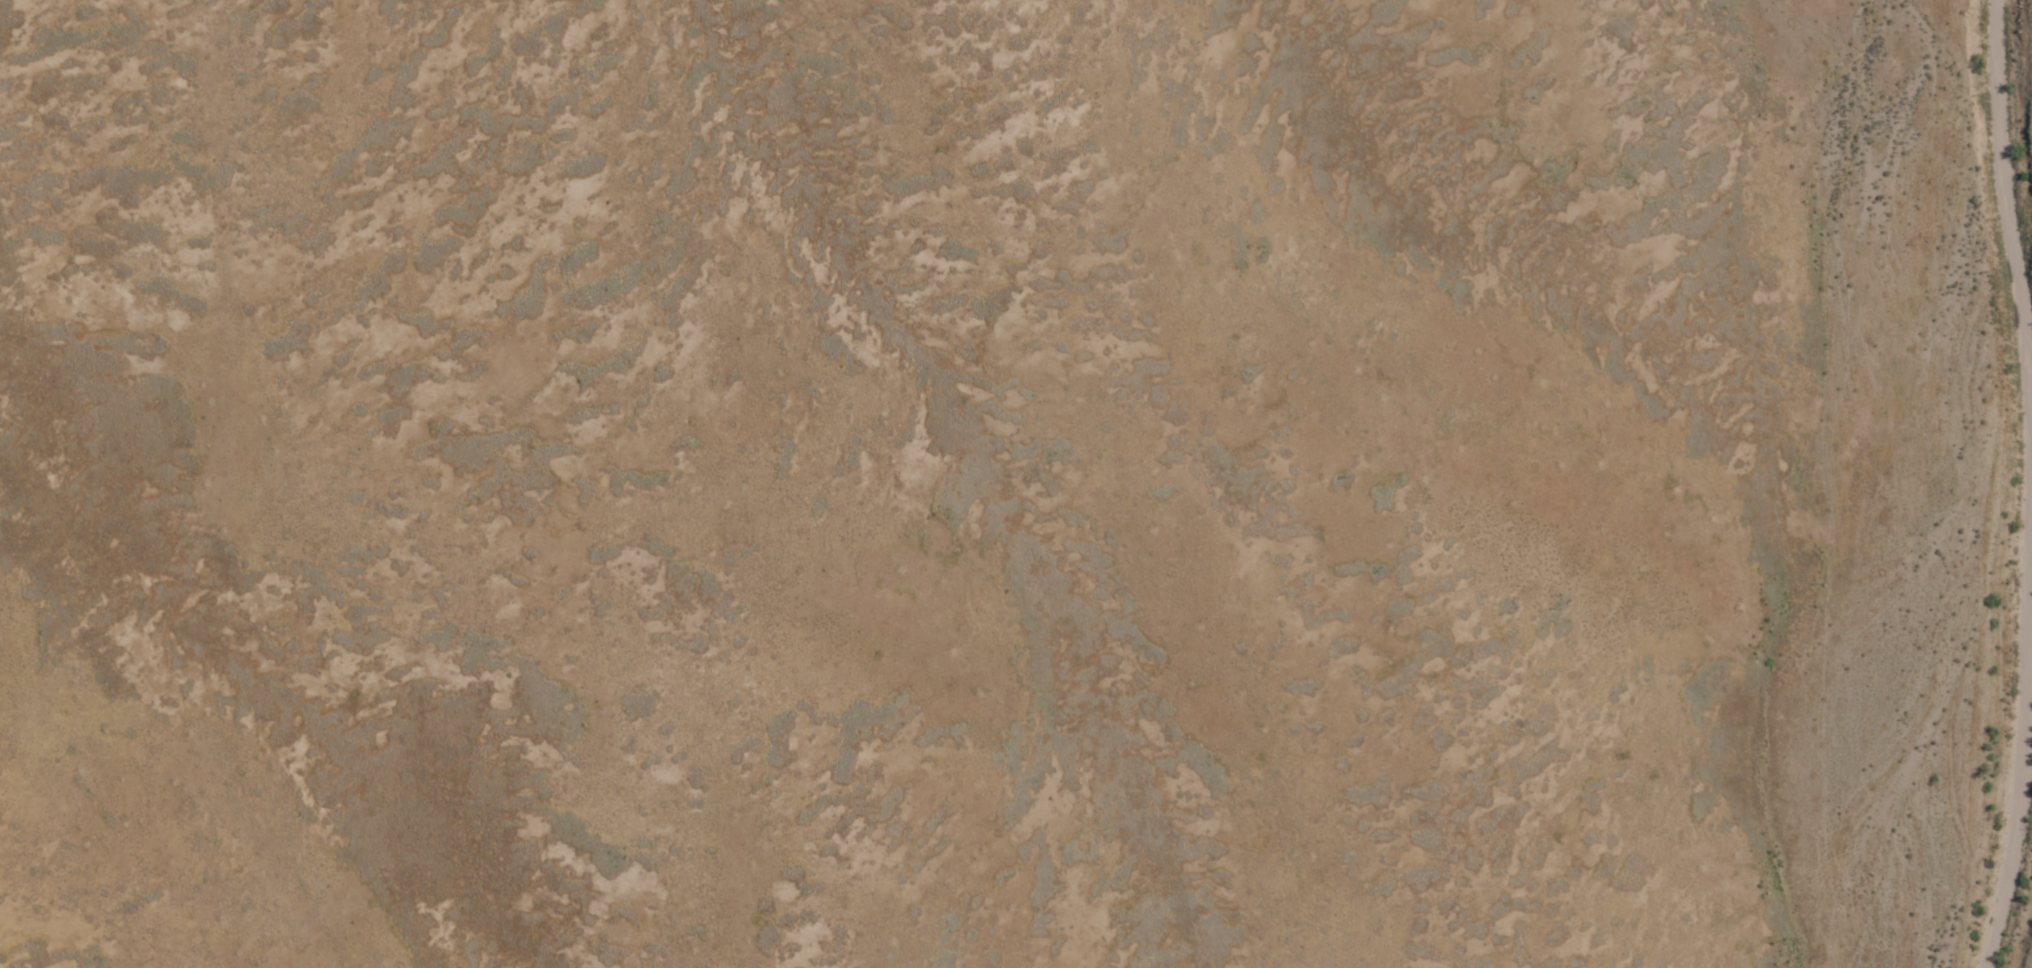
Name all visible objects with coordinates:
river: (2021, 484)

